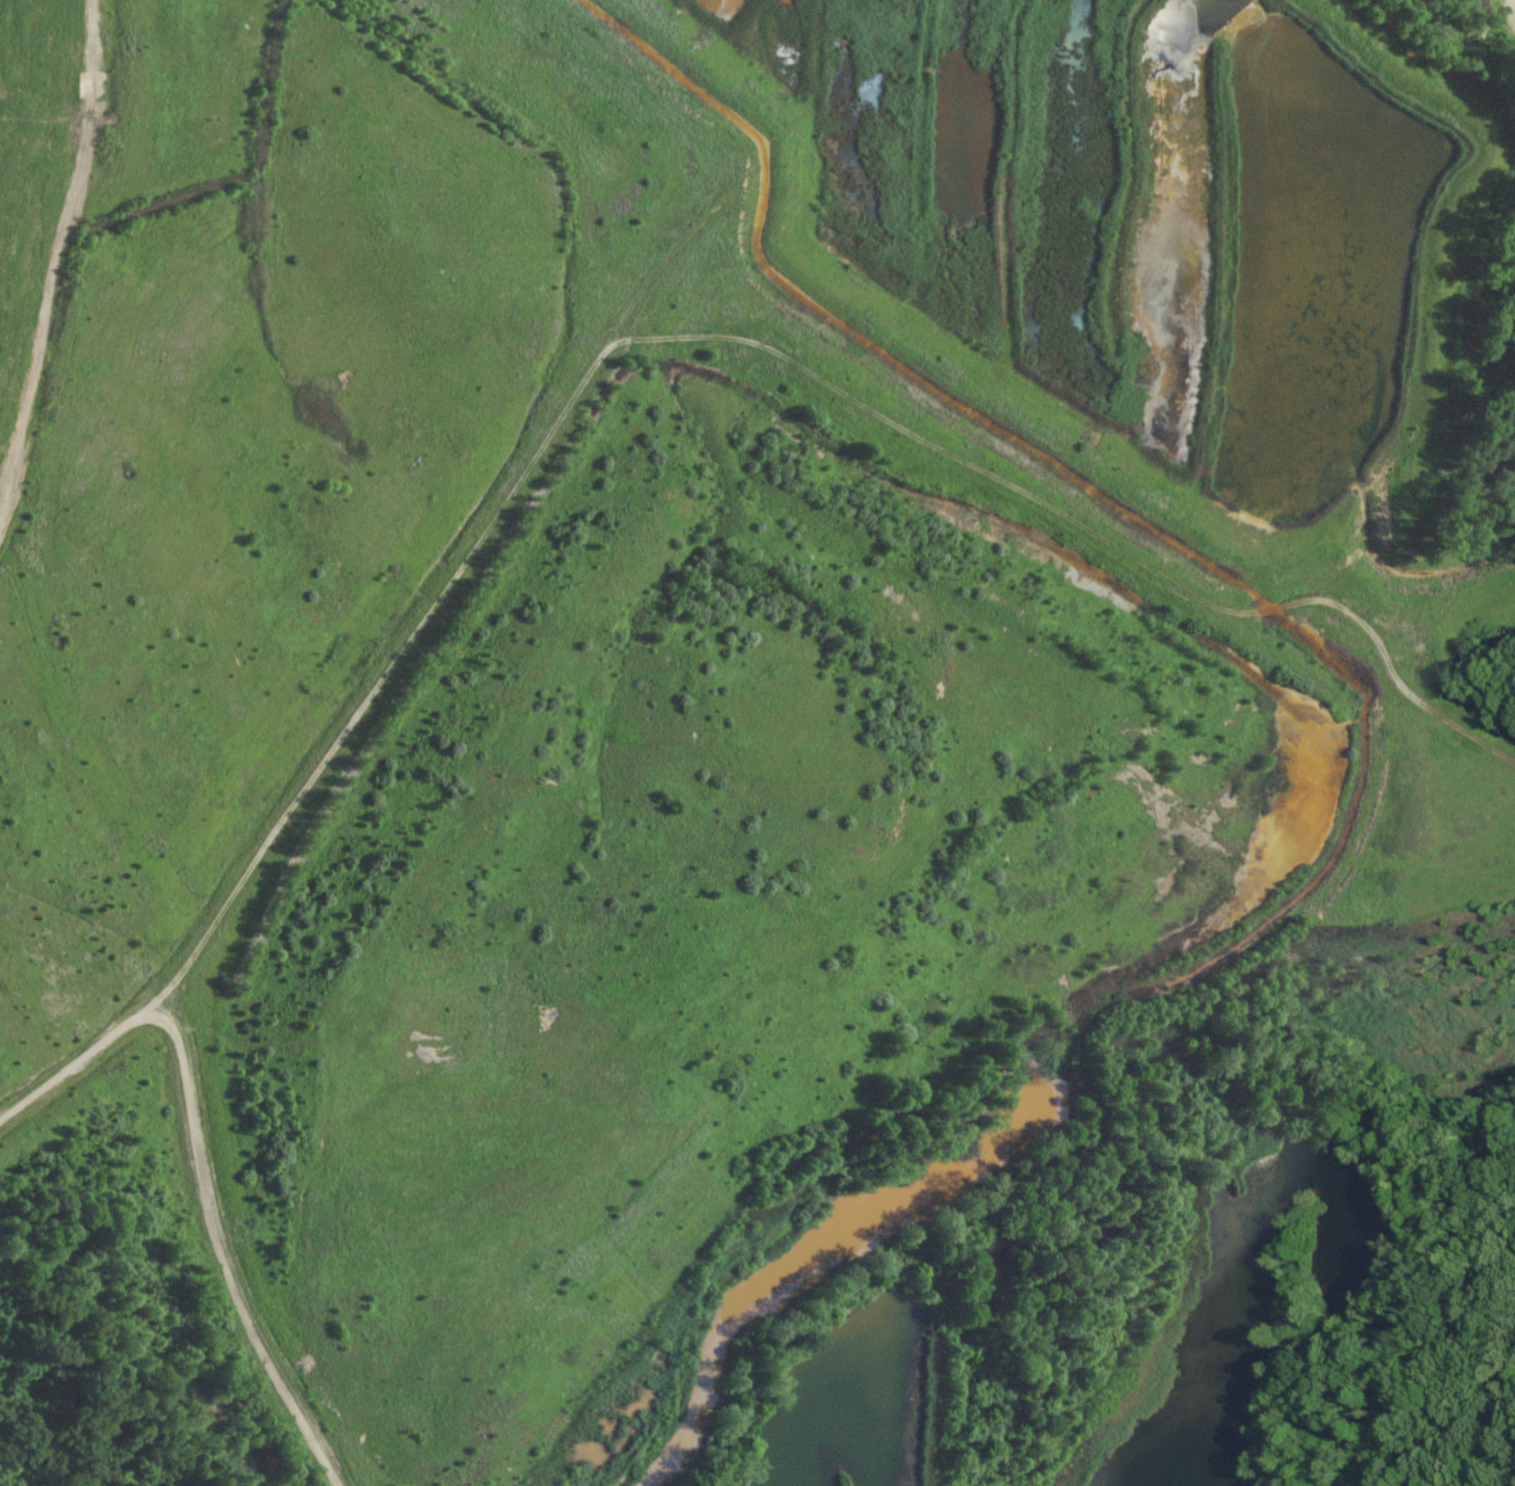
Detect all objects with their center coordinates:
road: (65, 256)
road: (199, 1159)

